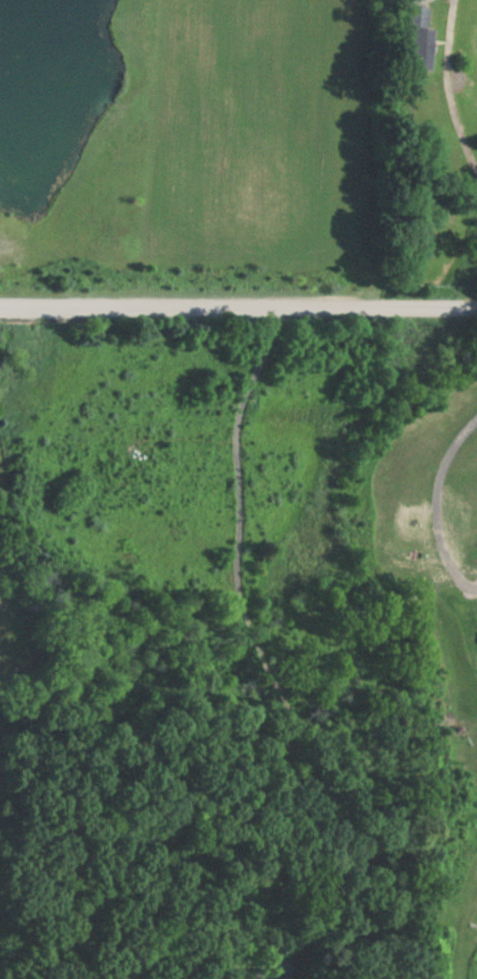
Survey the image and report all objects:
road: (238, 311)
road: (445, 514)

